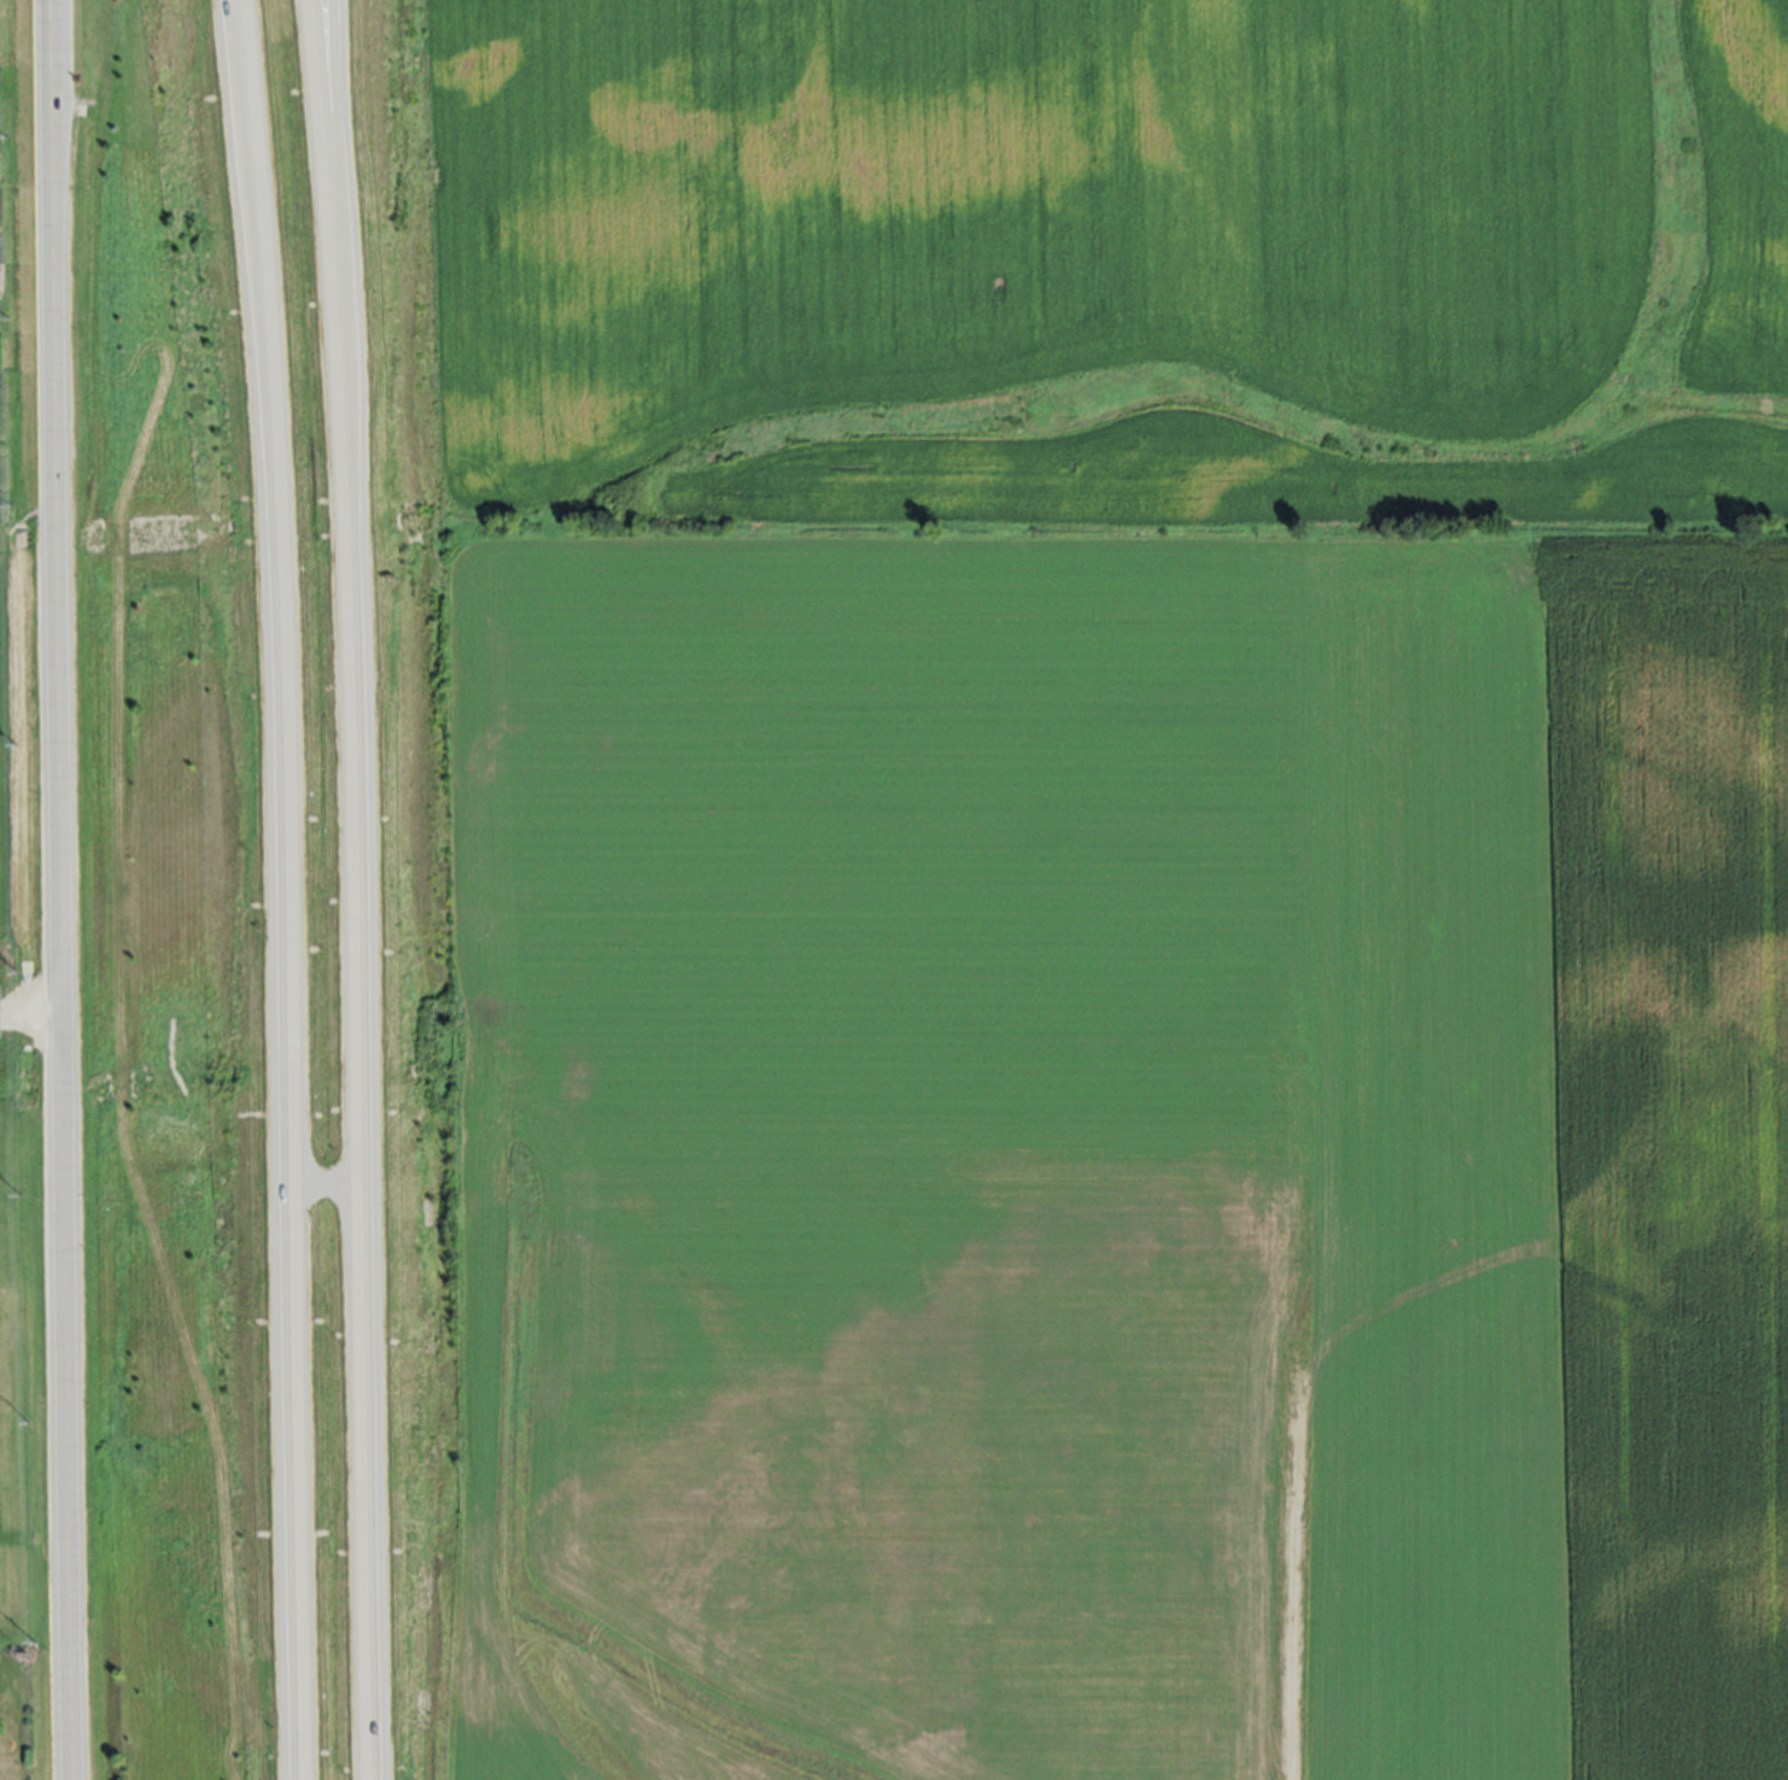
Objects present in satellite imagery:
road: (326, 37)
road: (27, 576)
road: (276, 889)
road: (356, 889)
road: (57, 890)

